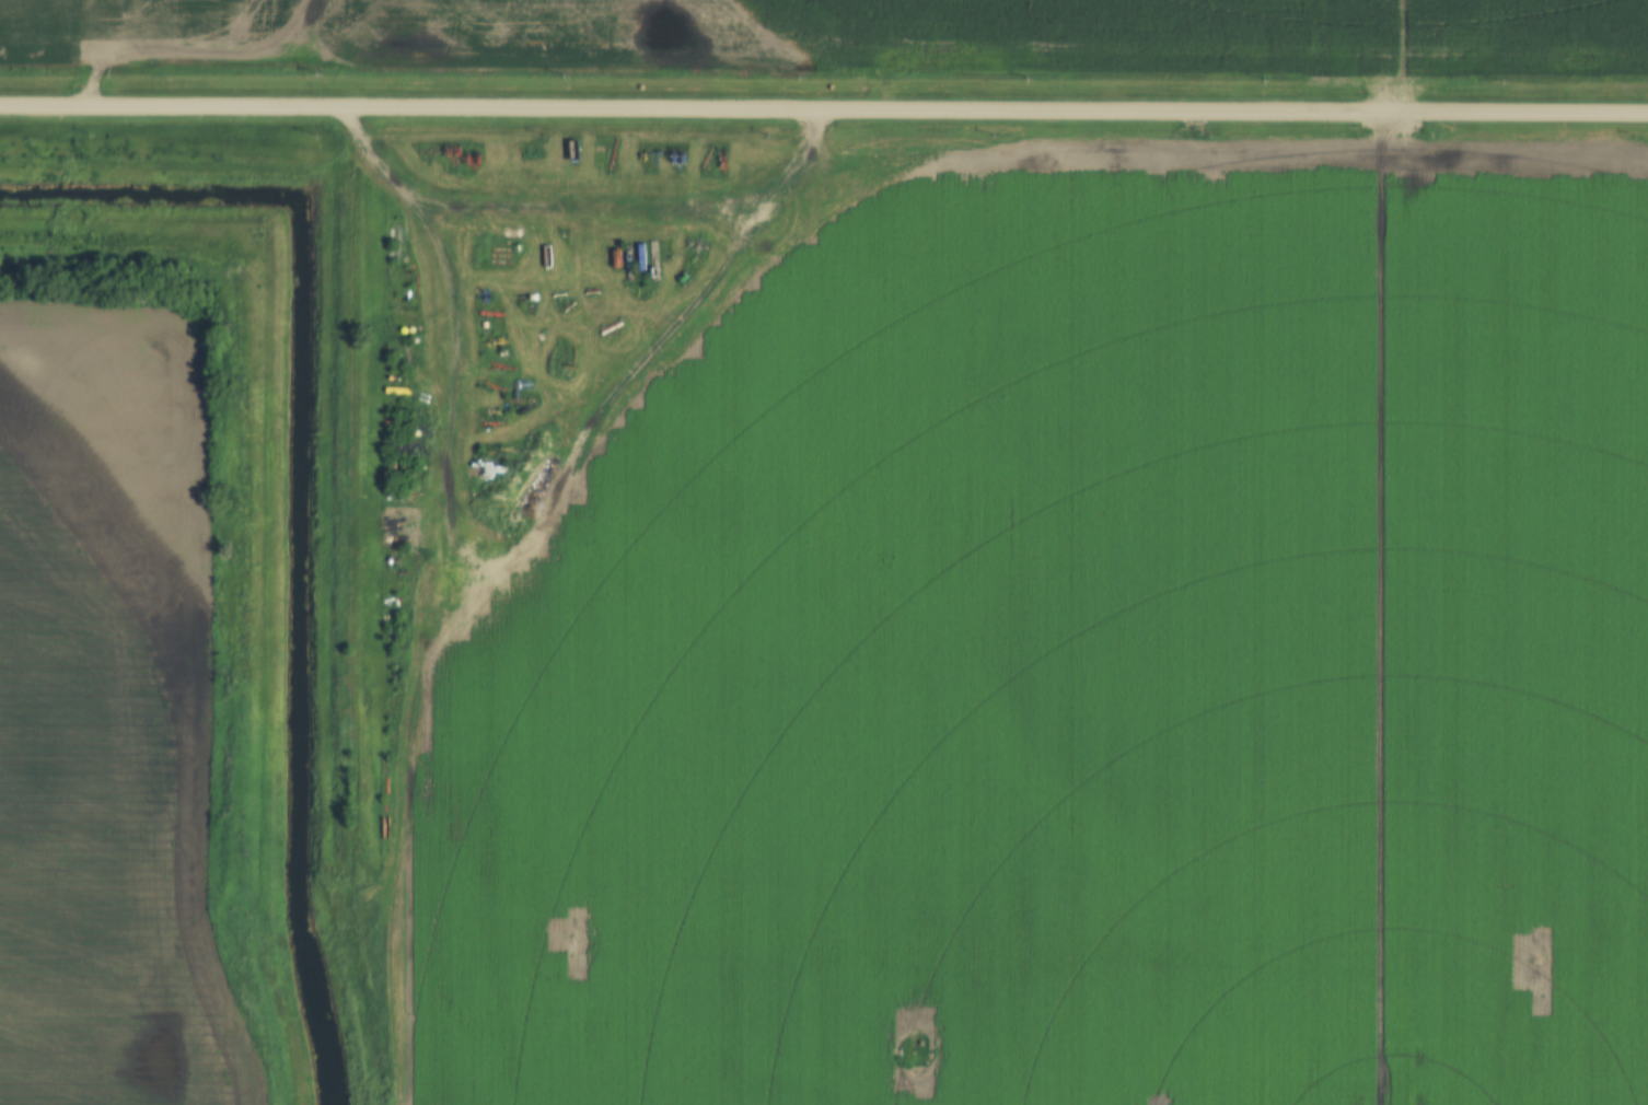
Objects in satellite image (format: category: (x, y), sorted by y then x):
road: (824, 109)
building: (582, 152)
building: (1034, 439)
building: (1145, 474)
building: (1029, 586)

